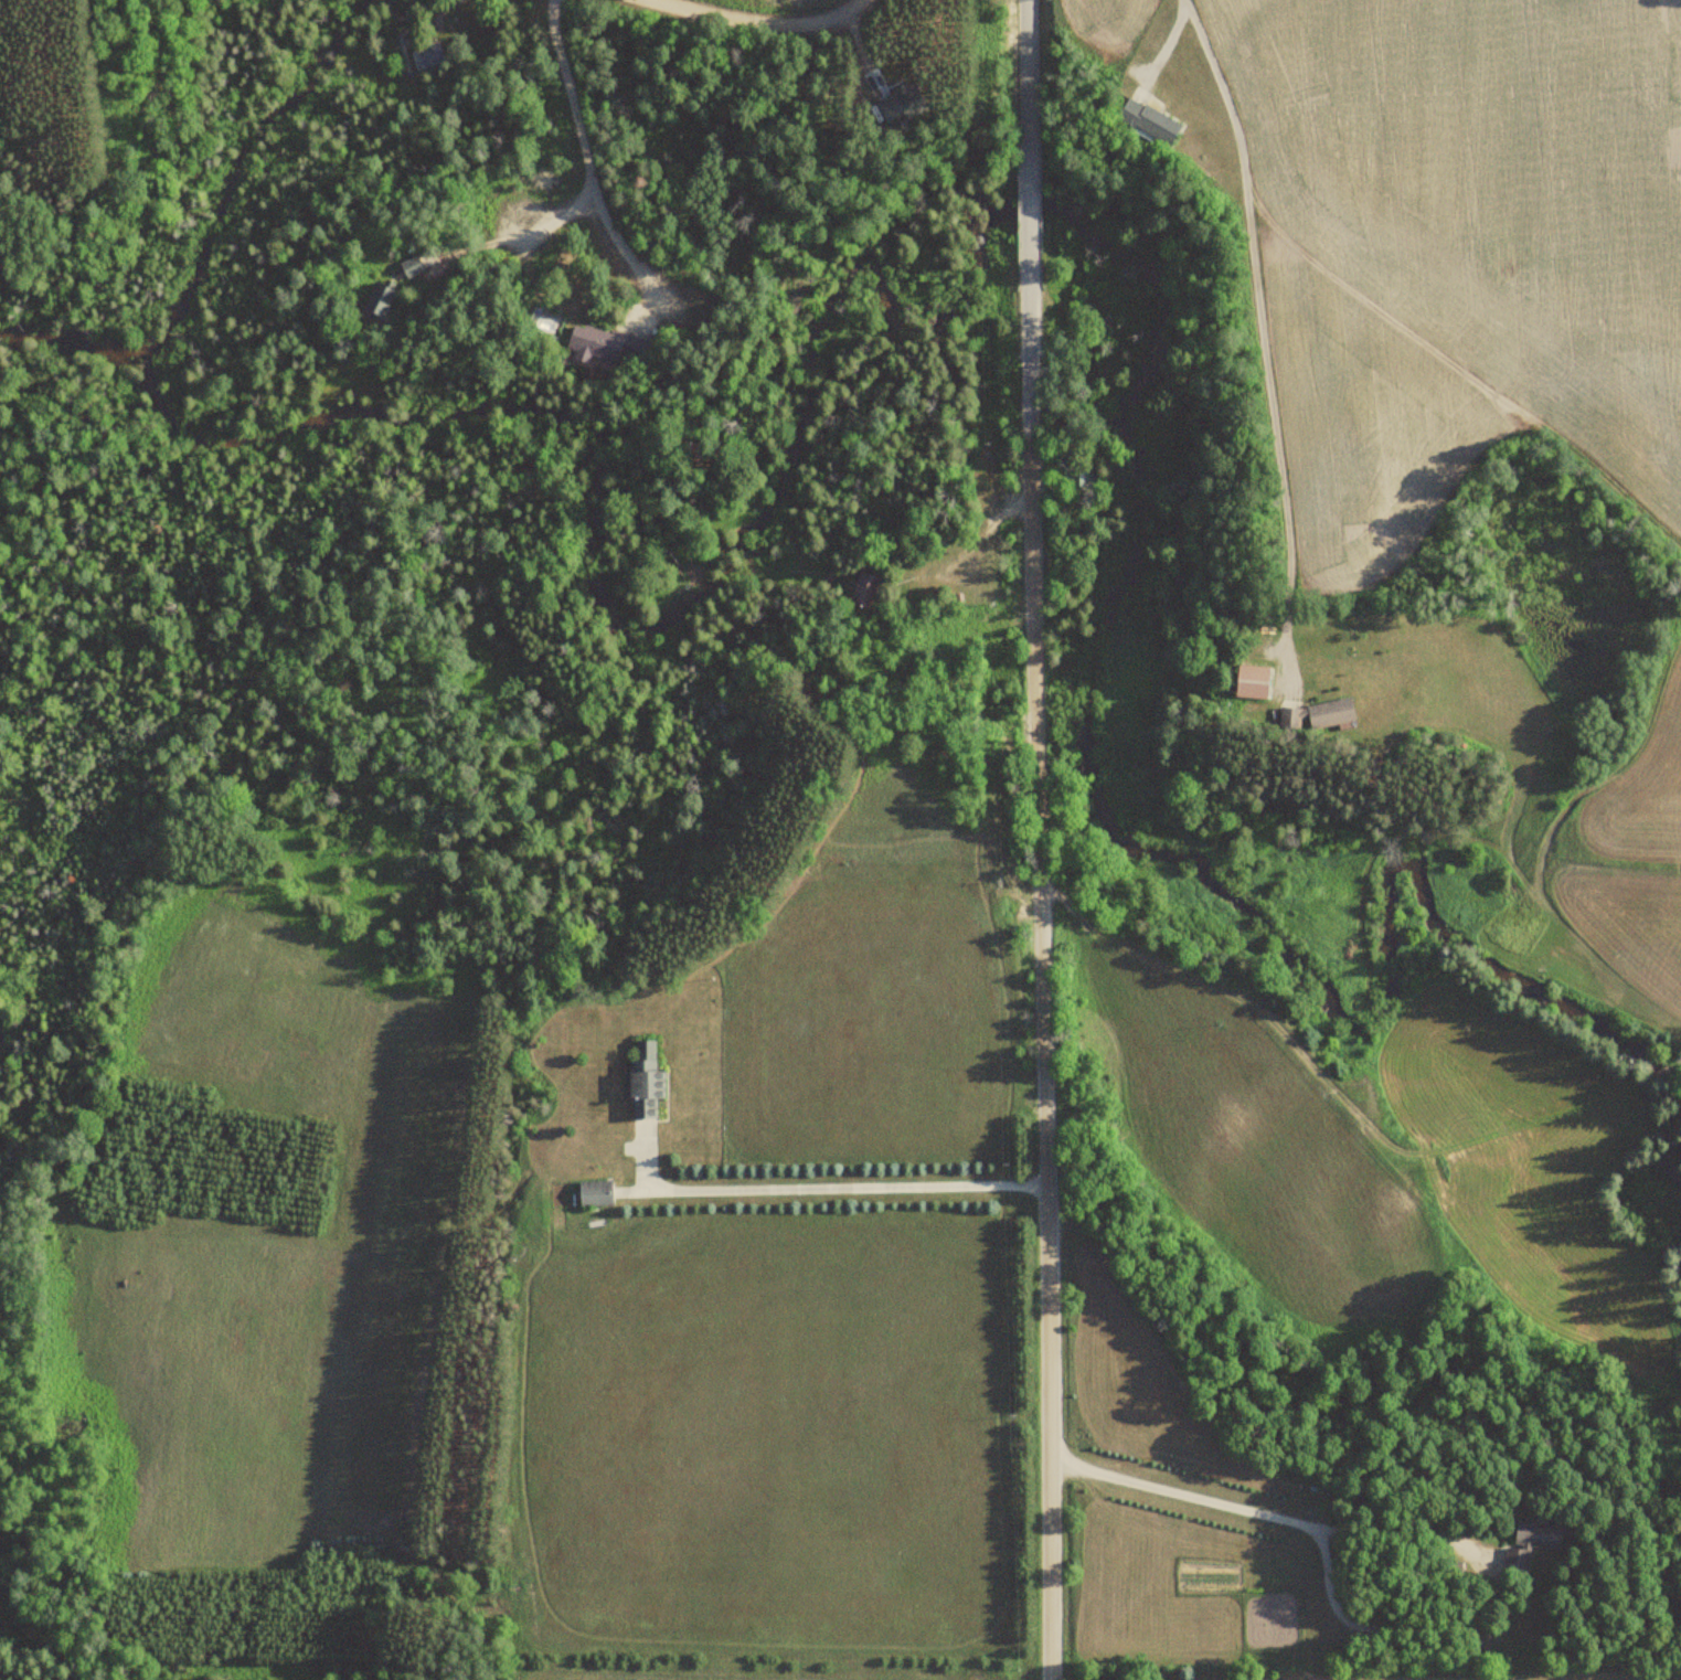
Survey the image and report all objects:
road: (768, 22)
building: (428, 55)
road: (1025, 87)
building: (887, 102)
building: (1141, 119)
river: (234, 170)
road: (1026, 204)
river: (1123, 246)
building: (405, 265)
building: (371, 298)
road: (1030, 332)
road: (1264, 340)
river: (70, 341)
building: (598, 343)
building: (863, 591)
building: (1247, 681)
building: (1310, 714)
road: (1044, 1055)
building: (642, 1081)
river: (1678, 1162)
building: (593, 1192)
building: (1529, 1546)

